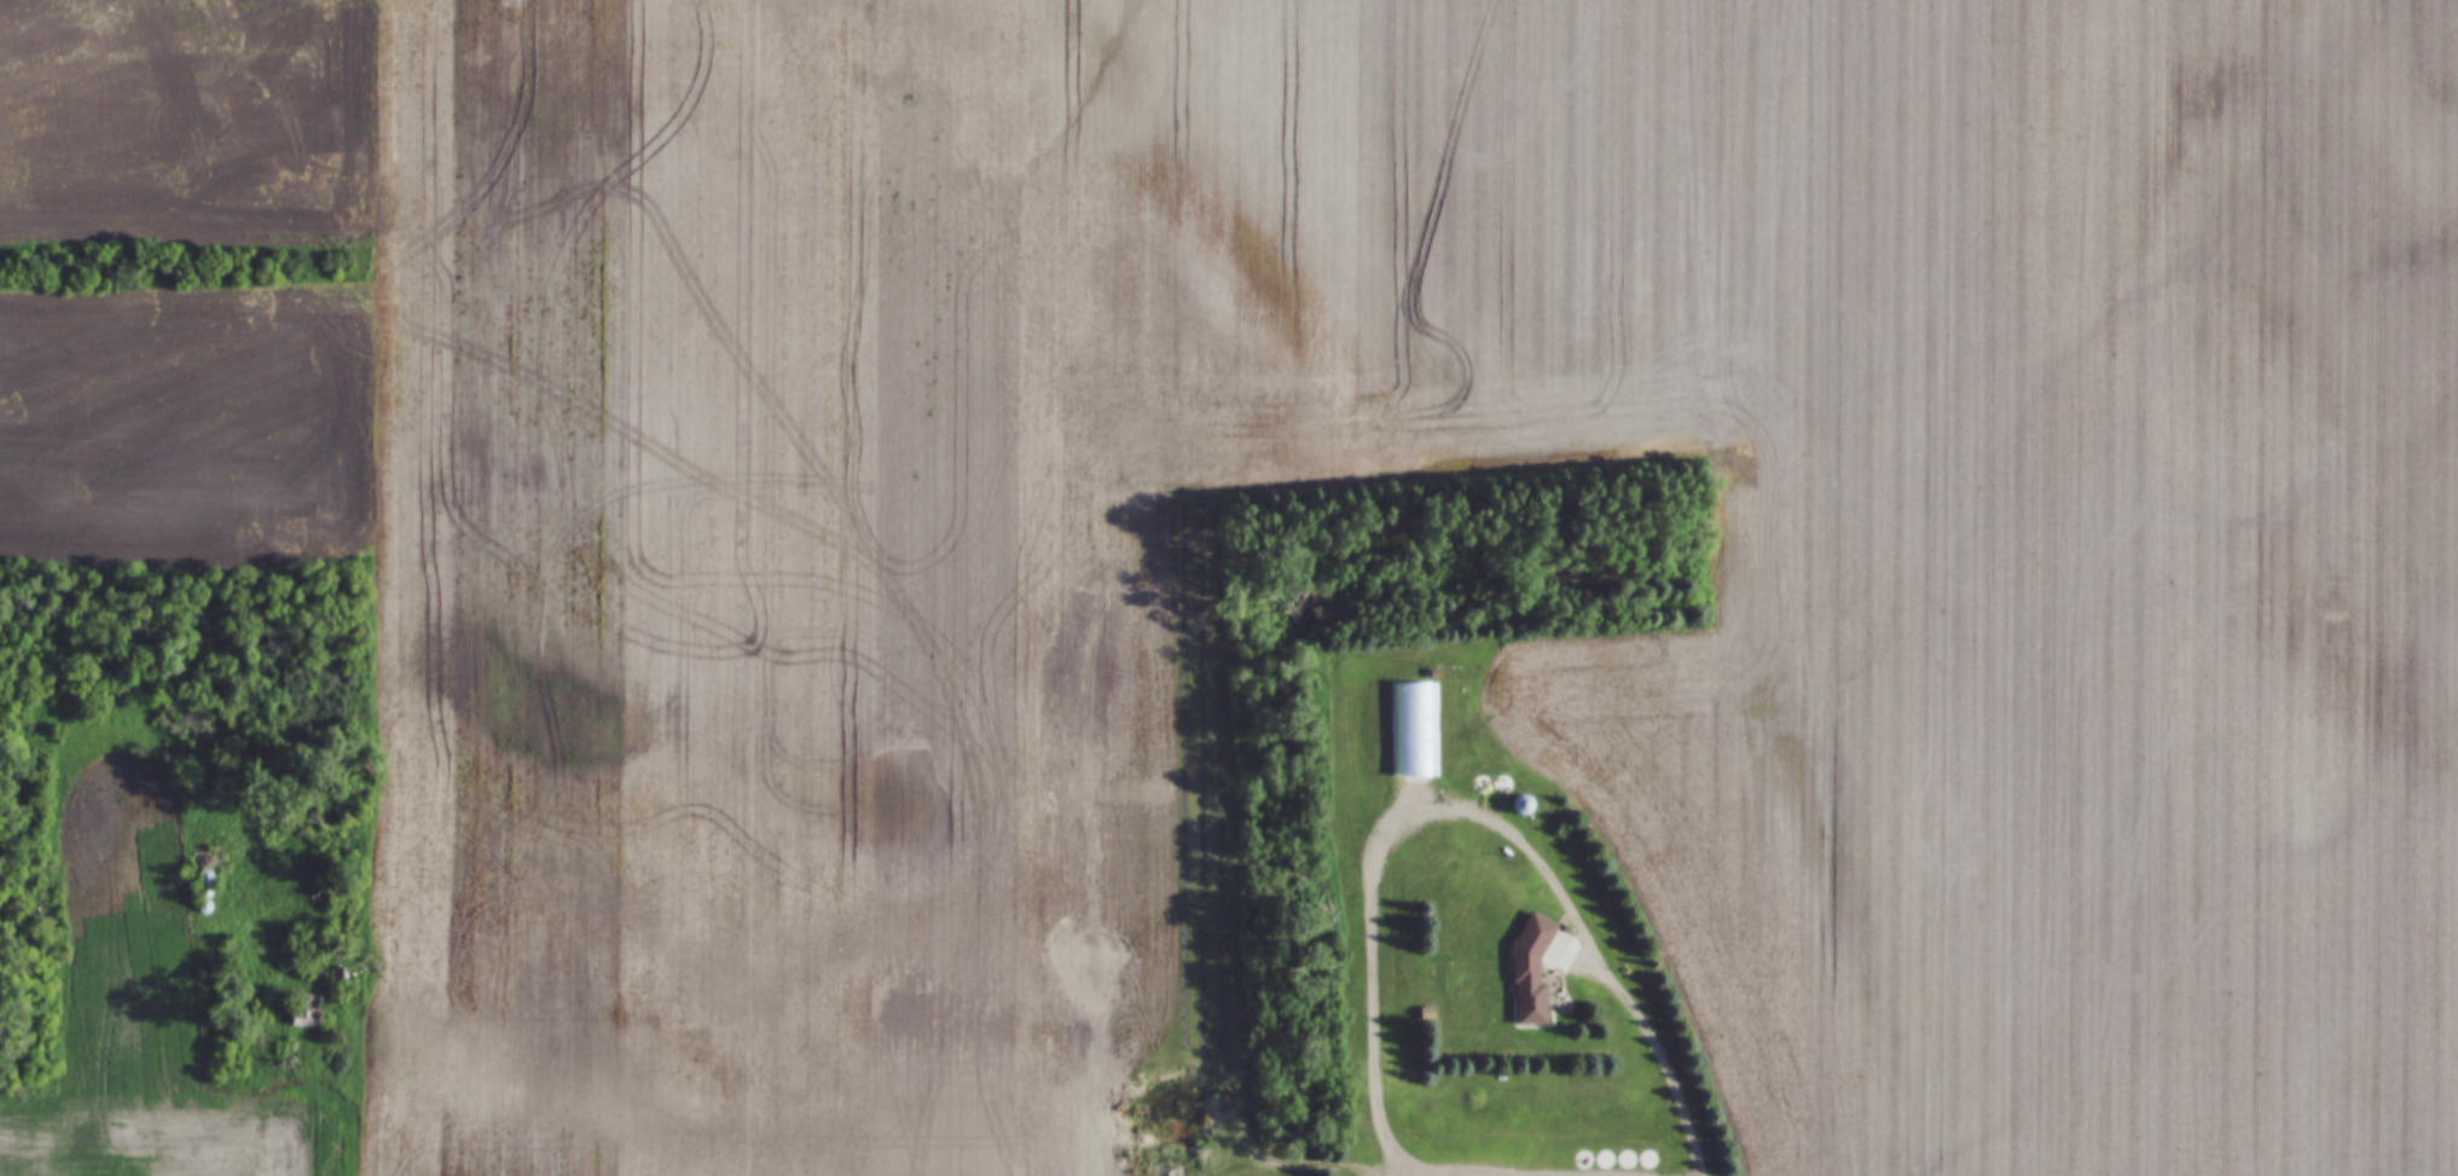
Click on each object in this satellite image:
building: (1411, 730)
building: (1514, 806)
building: (1525, 969)
road: (1378, 986)
building: (296, 1016)
road: (297, 1130)

